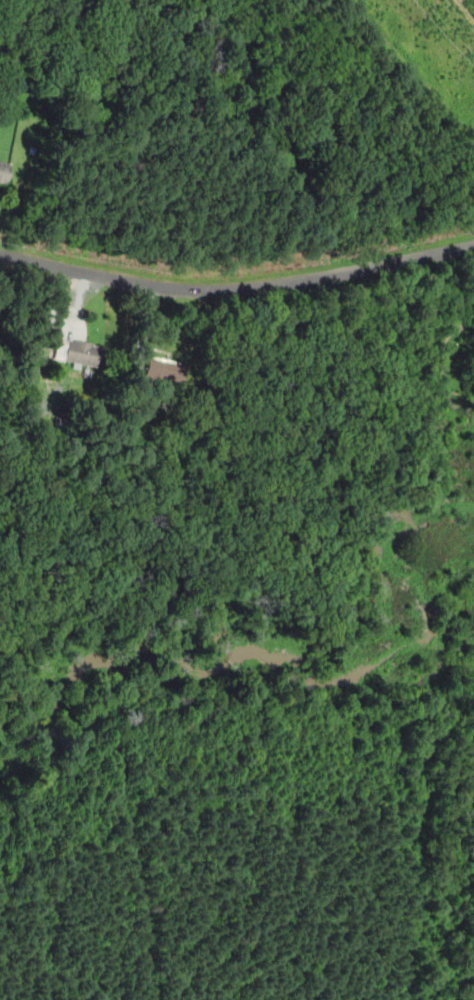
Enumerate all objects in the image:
building: (4, 170)
road: (237, 291)
building: (80, 353)
building: (165, 371)

